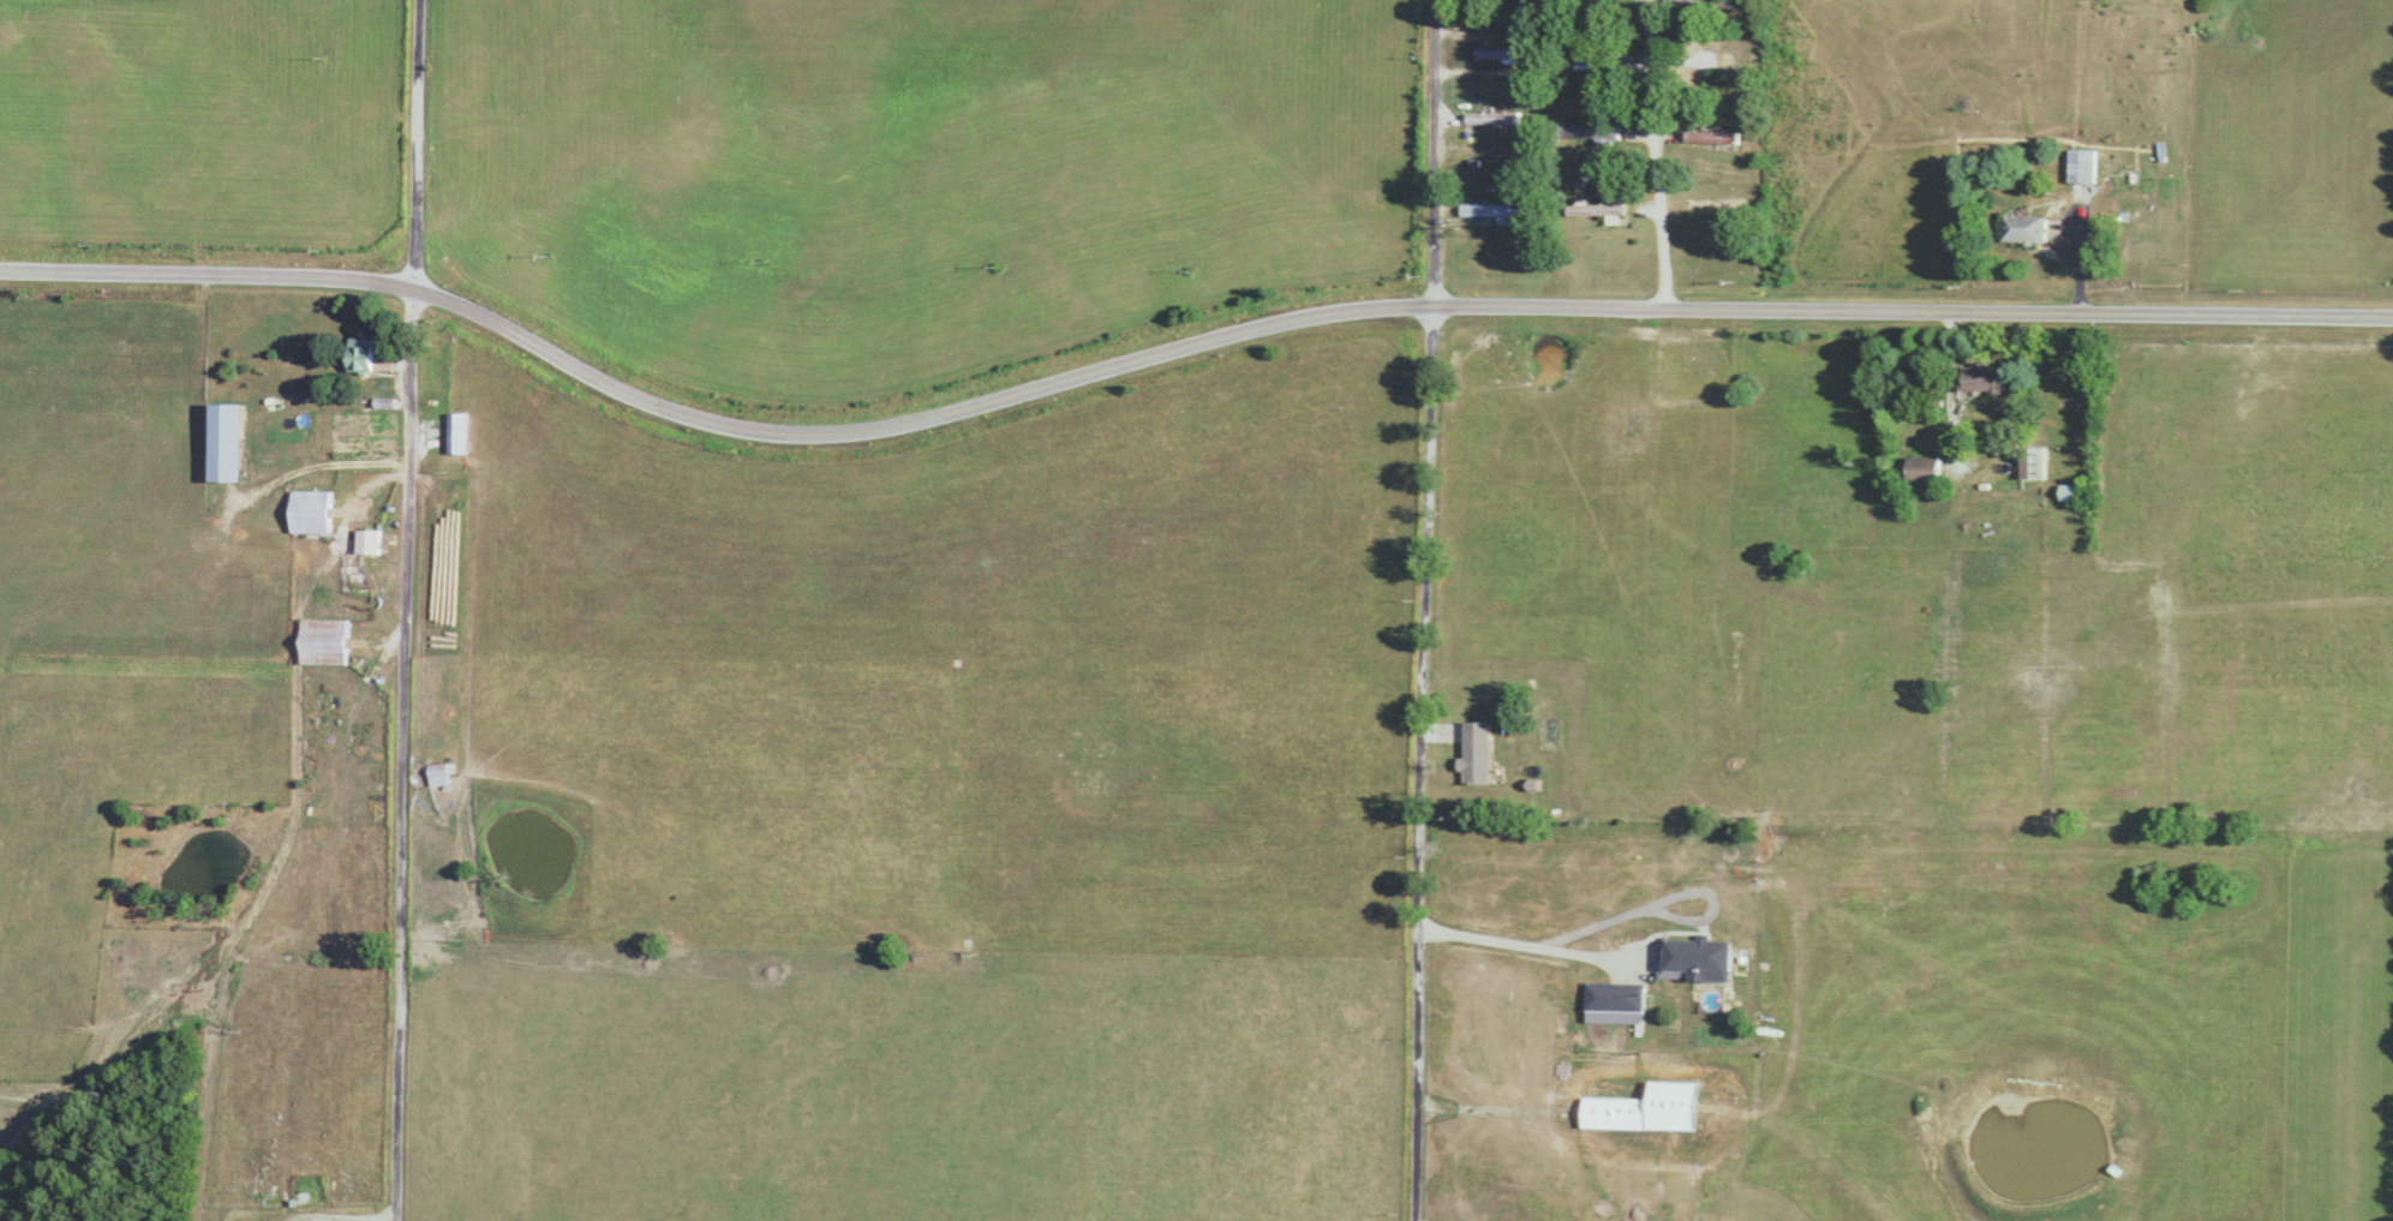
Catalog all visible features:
building: (1592, 0)
building: (1703, 4)
building: (1480, 11)
building: (1507, 53)
building: (1706, 59)
building: (1597, 65)
building: (1497, 118)
building: (1592, 131)
building: (1711, 137)
road: (1441, 155)
road: (1659, 156)
building: (2081, 164)
building: (1716, 203)
building: (1597, 208)
building: (1495, 209)
building: (2023, 227)
road: (2077, 257)
building: (369, 355)
road: (1179, 357)
building: (1979, 377)
road: (1946, 387)
building: (459, 433)
building: (231, 442)
building: (2032, 462)
building: (1919, 469)
building: (2069, 492)
building: (313, 511)
building: (372, 541)
road: (336, 556)
road: (408, 610)
building: (328, 641)
building: (1482, 754)
road: (1424, 765)
building: (444, 776)
road: (1528, 954)
building: (1701, 957)
building: (1616, 995)
airport runway: (2364, 1035)

